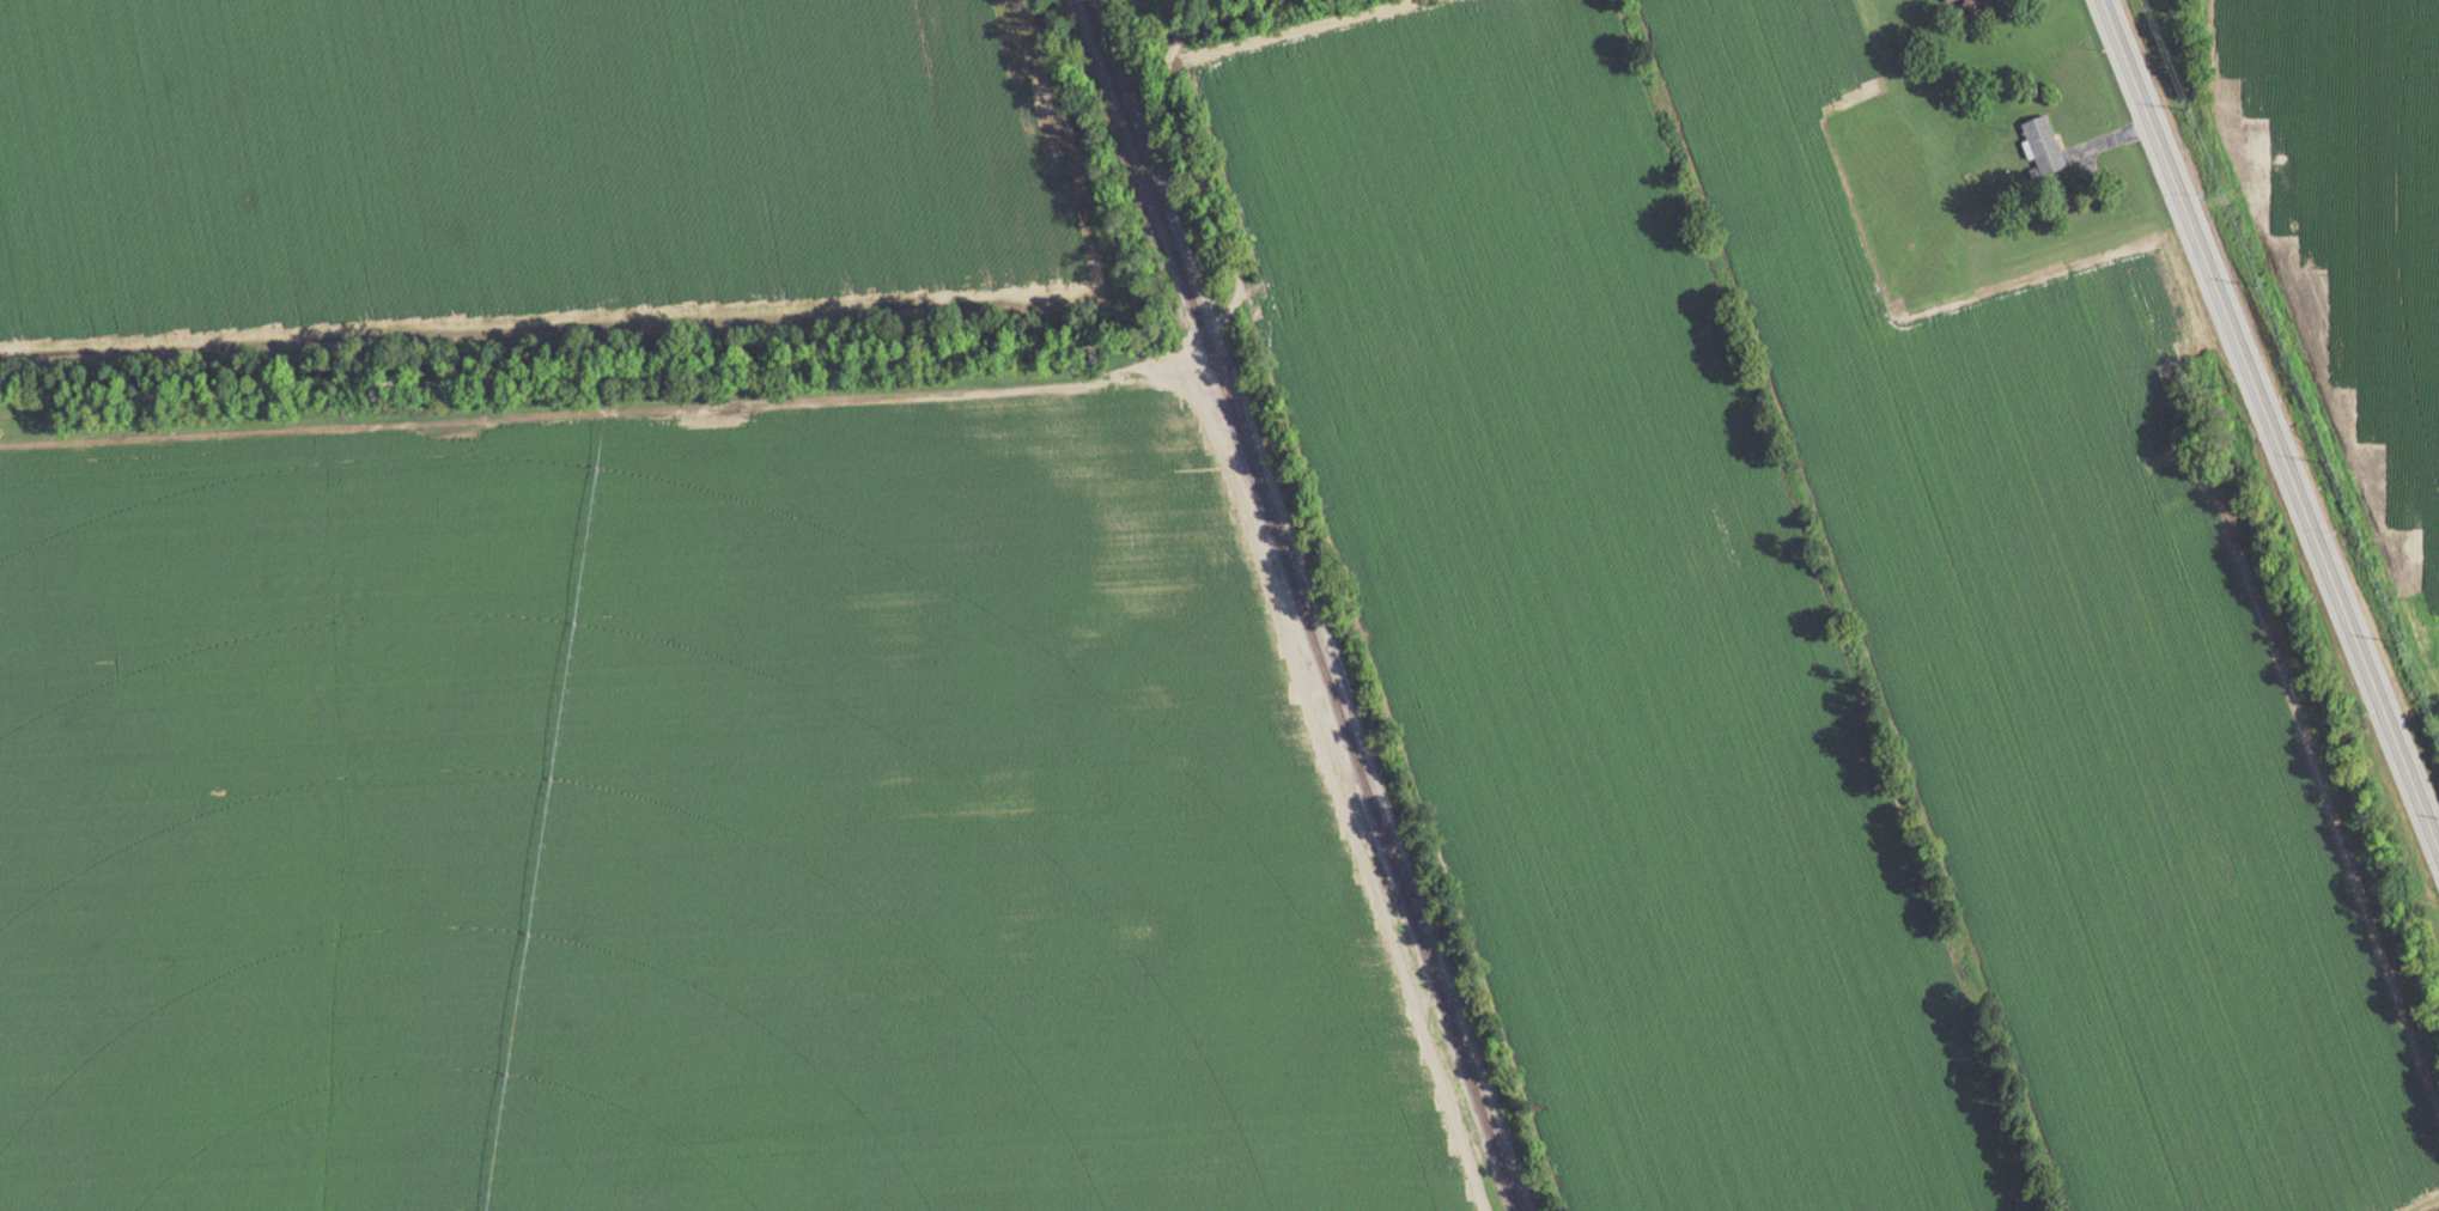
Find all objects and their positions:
building: (1954, 1)
building: (1981, 6)
building: (2043, 144)
road: (634, 408)
road: (2273, 422)
railway: (1304, 605)
road: (1334, 779)

